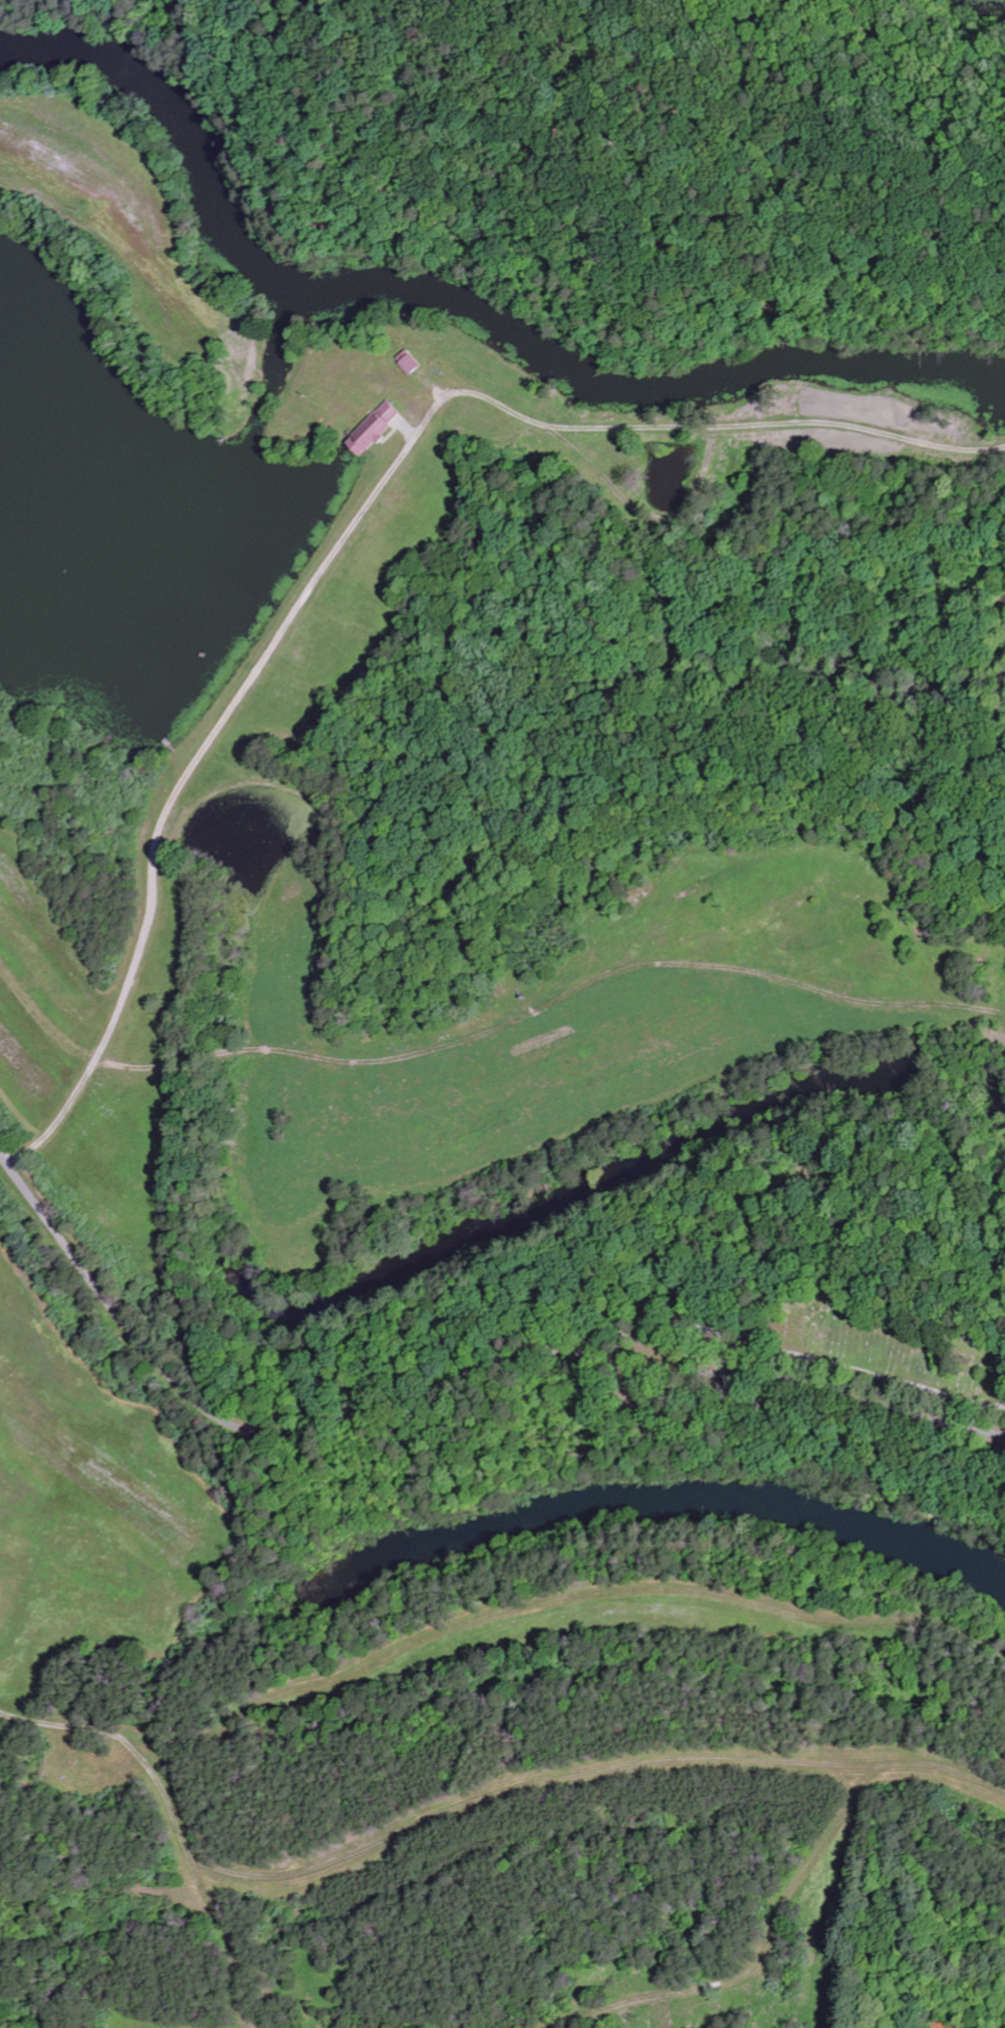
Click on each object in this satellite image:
road: (700, 431)
road: (180, 788)
park: (877, 1339)
road: (442, 1385)
road: (463, 1810)
road: (232, 1942)
road: (755, 1961)

